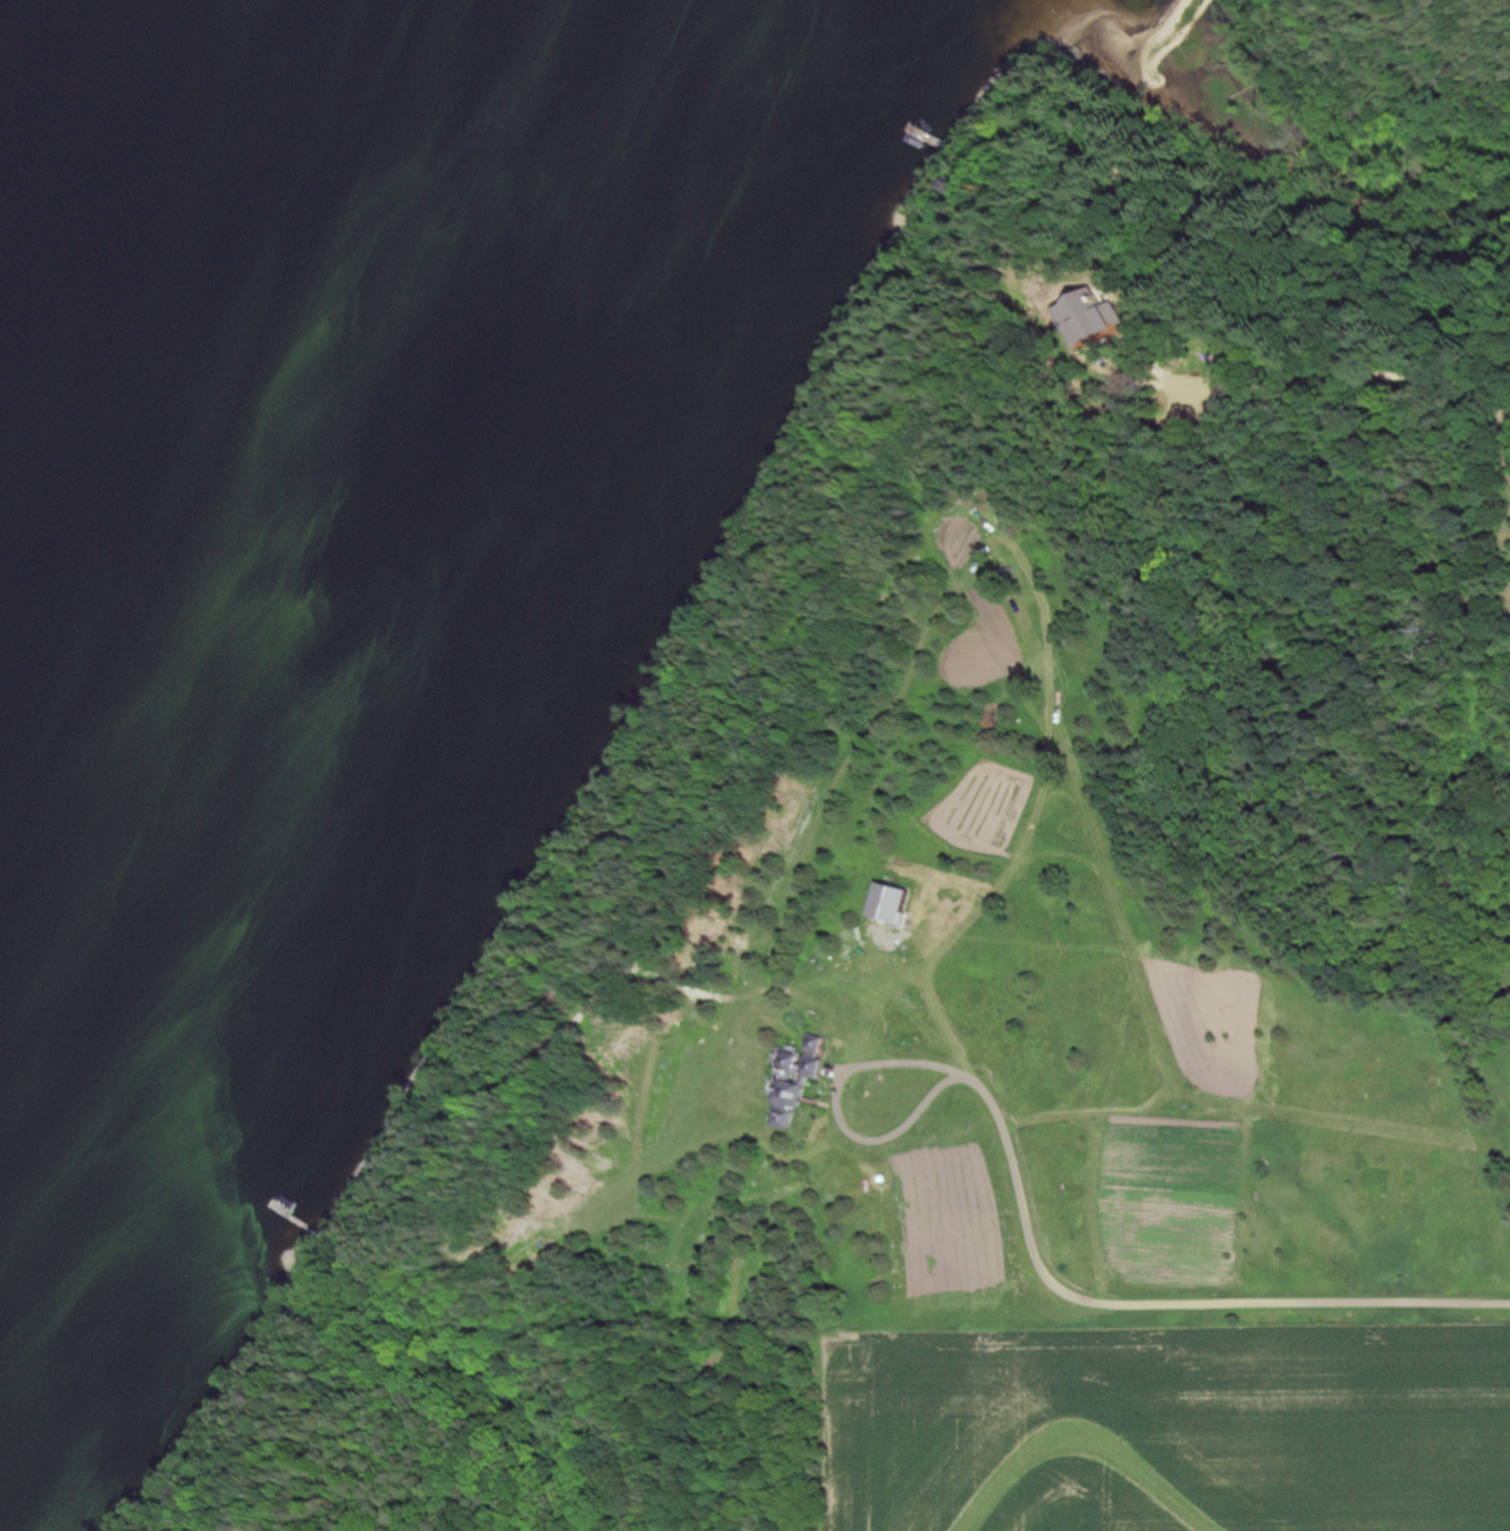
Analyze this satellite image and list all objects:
river: (167, 315)
road: (1329, 377)
building: (795, 1082)
road: (843, 1109)
road: (1163, 1301)
crop: (1168, 1426)

